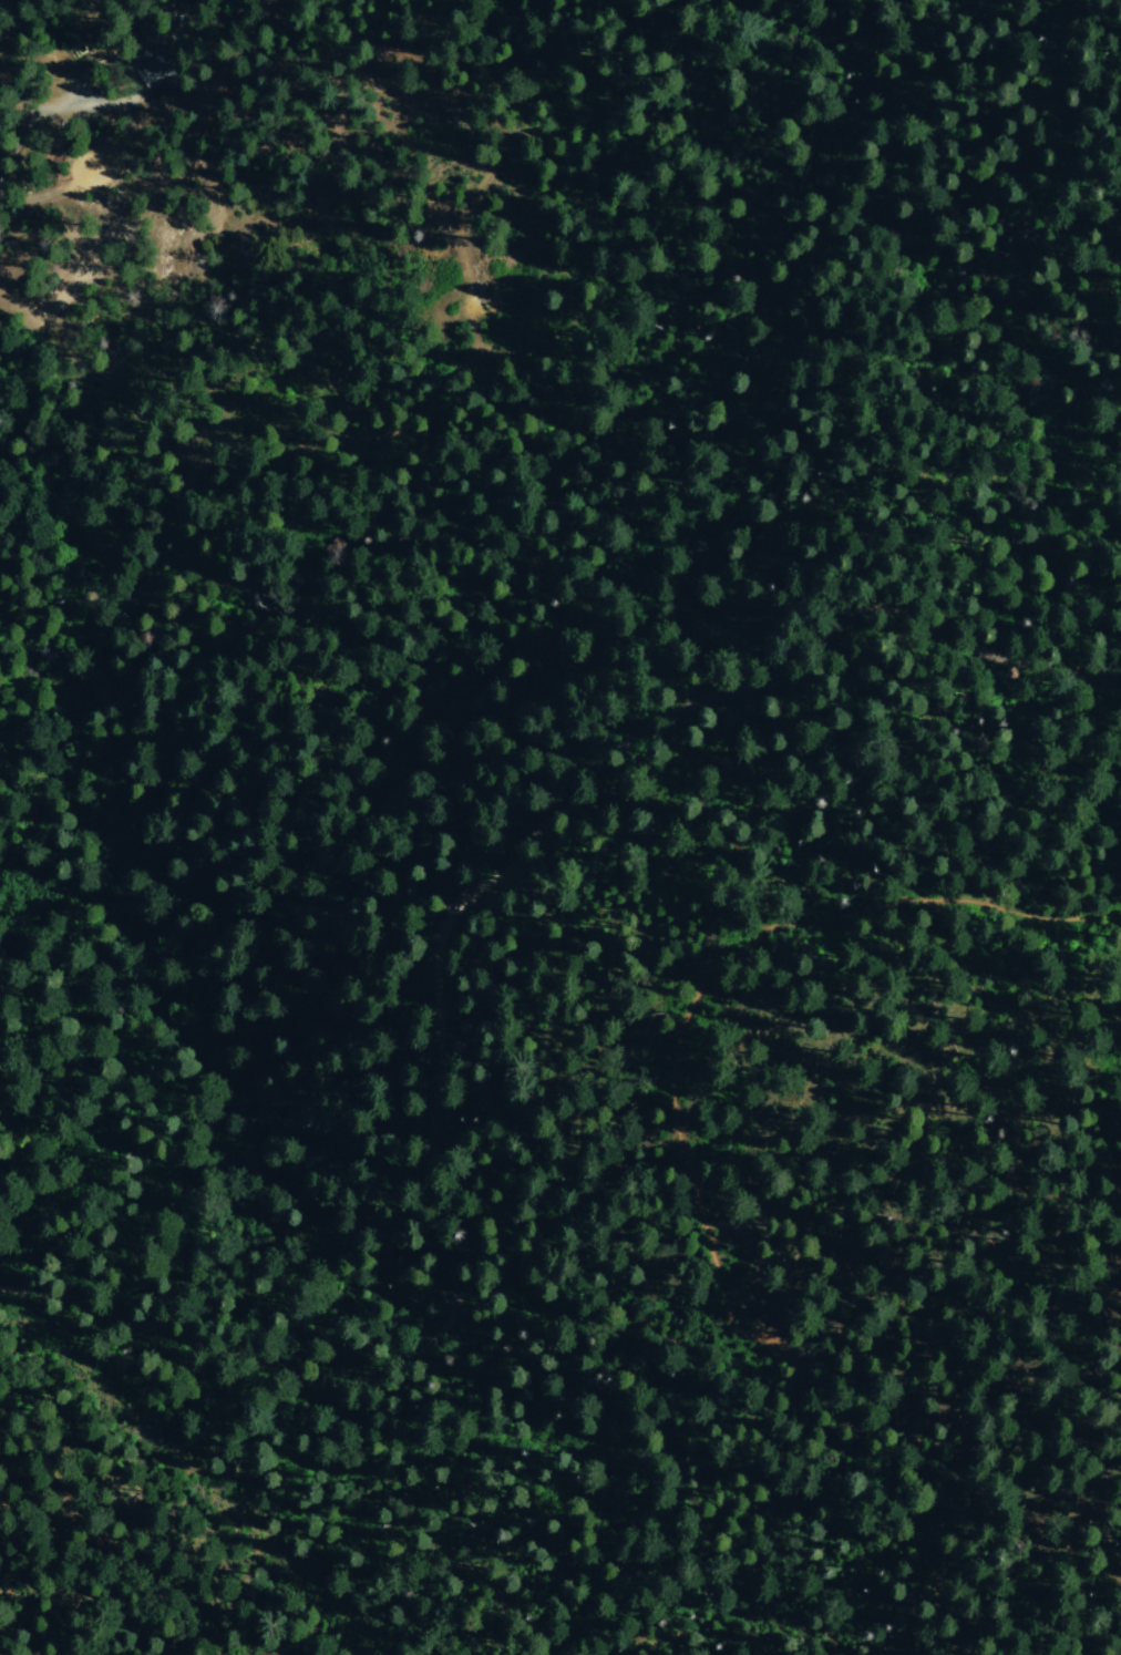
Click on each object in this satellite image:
road: (51, 106)
road: (730, 956)
road: (441, 962)
road: (761, 1531)
road: (184, 1616)
road: (52, 1617)
road: (230, 1651)

